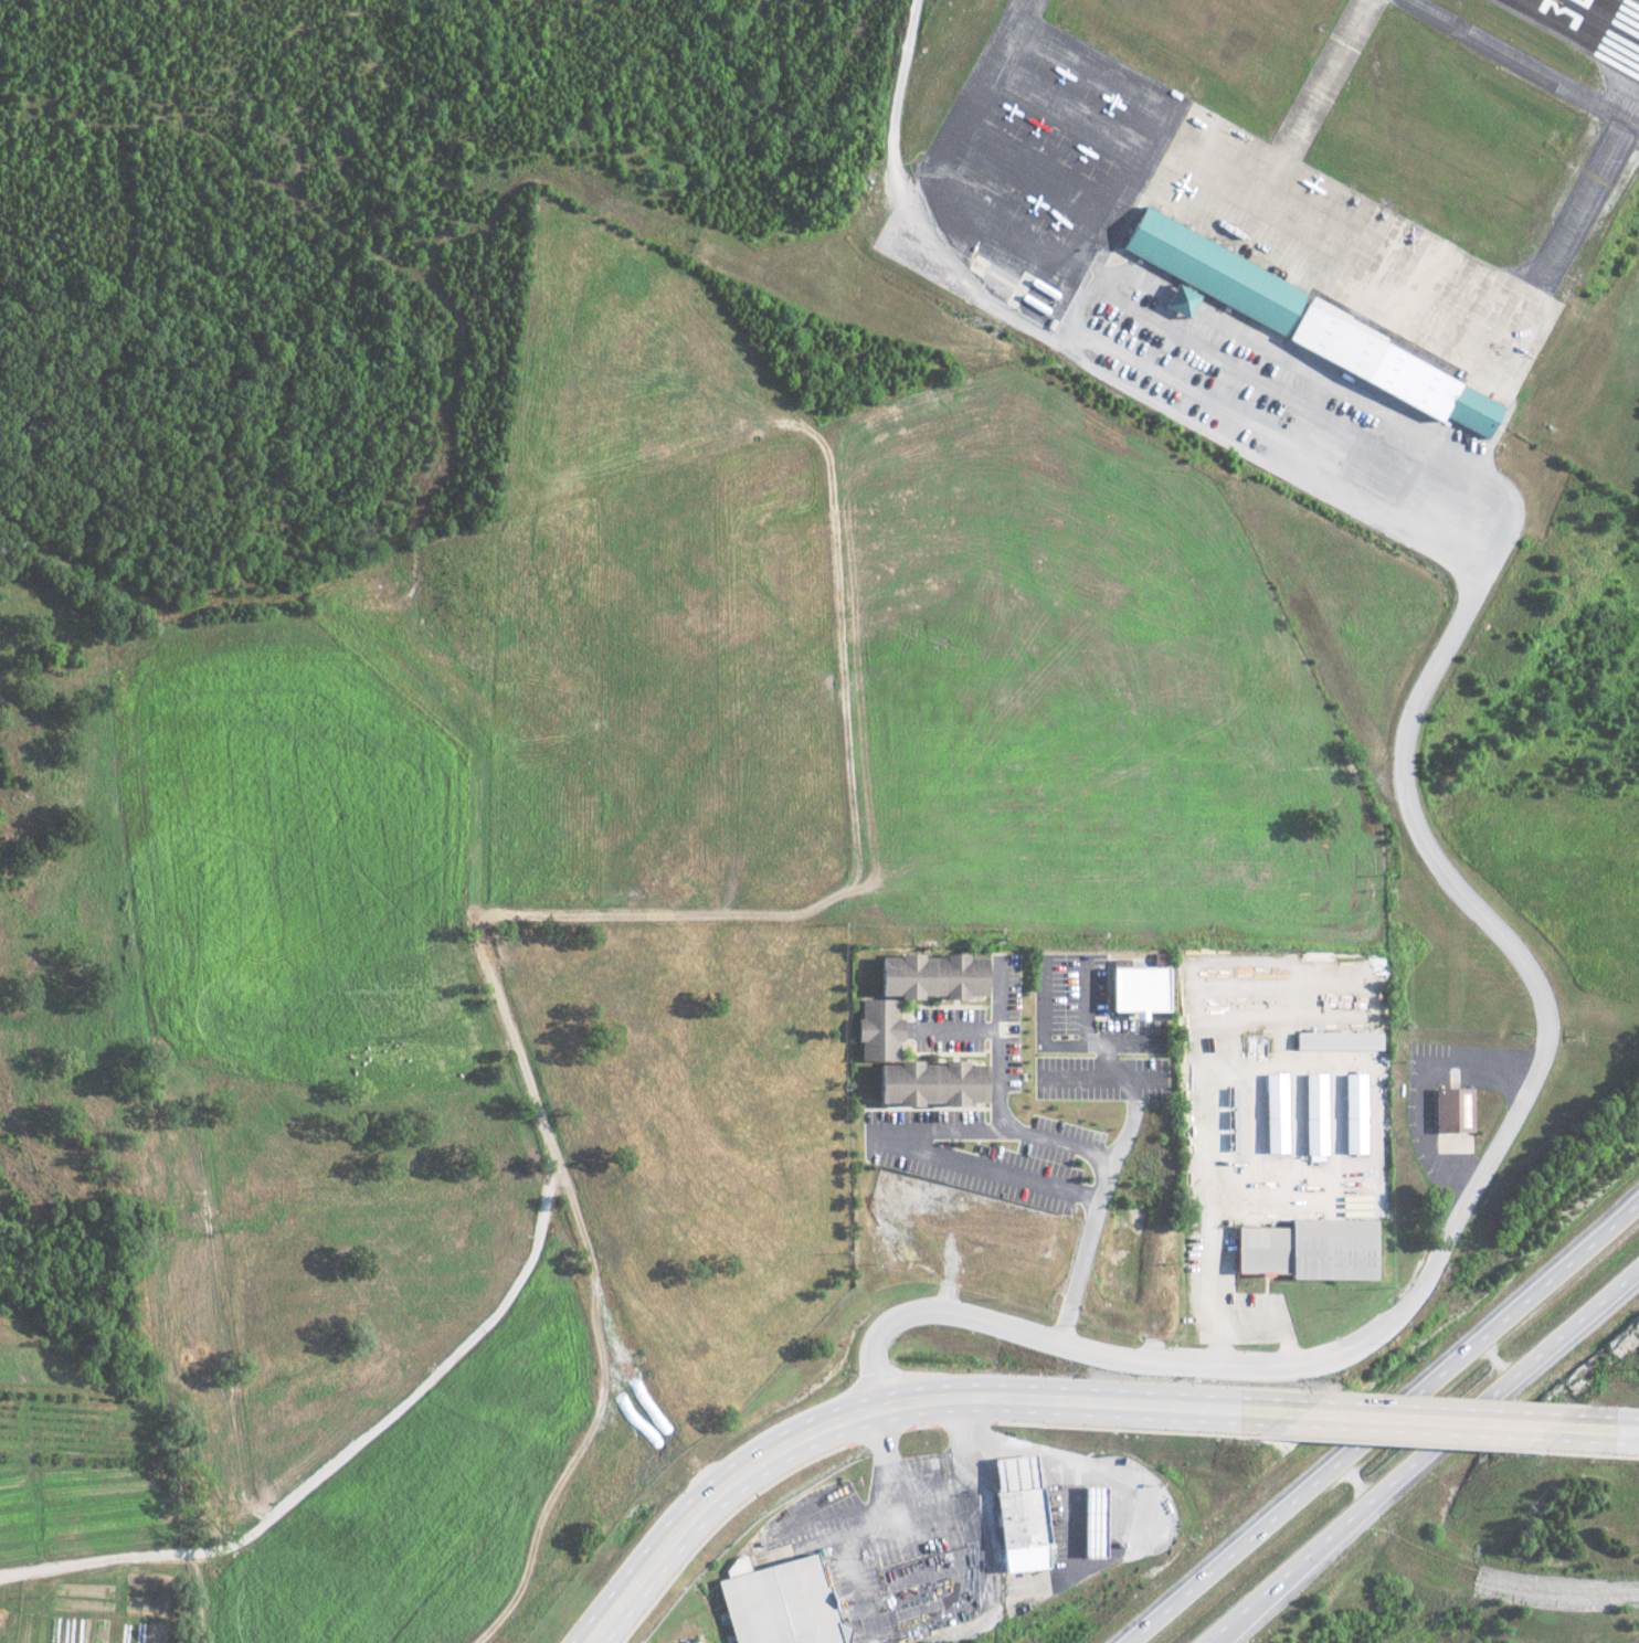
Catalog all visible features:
airport runway: (1633, 2)
airport taxiway: (1029, 4)
airport runway: (1562, 42)
airport taxiway: (1520, 64)
airport taxiway: (1328, 77)
airport taxiway: (1586, 193)
airport apron: (1171, 208)
airport: (1209, 234)
building: (1178, 300)
airport terminal: (1307, 325)
building: (1307, 325)
building: (1136, 989)
road: (1542, 995)
building: (877, 1021)
building: (1335, 1041)
road: (1118, 1071)
building: (1450, 1111)
building: (1272, 1113)
building: (1312, 1114)
building: (1352, 1114)
road: (1068, 1144)
building: (1234, 1144)
building: (1307, 1250)
road: (901, 1406)
road: (1424, 1420)
road: (1377, 1421)
road: (1594, 1429)
road: (1066, 1456)
road: (1425, 1456)
building: (1018, 1514)
building: (1091, 1519)
building: (776, 1604)
building: (691, 1642)

